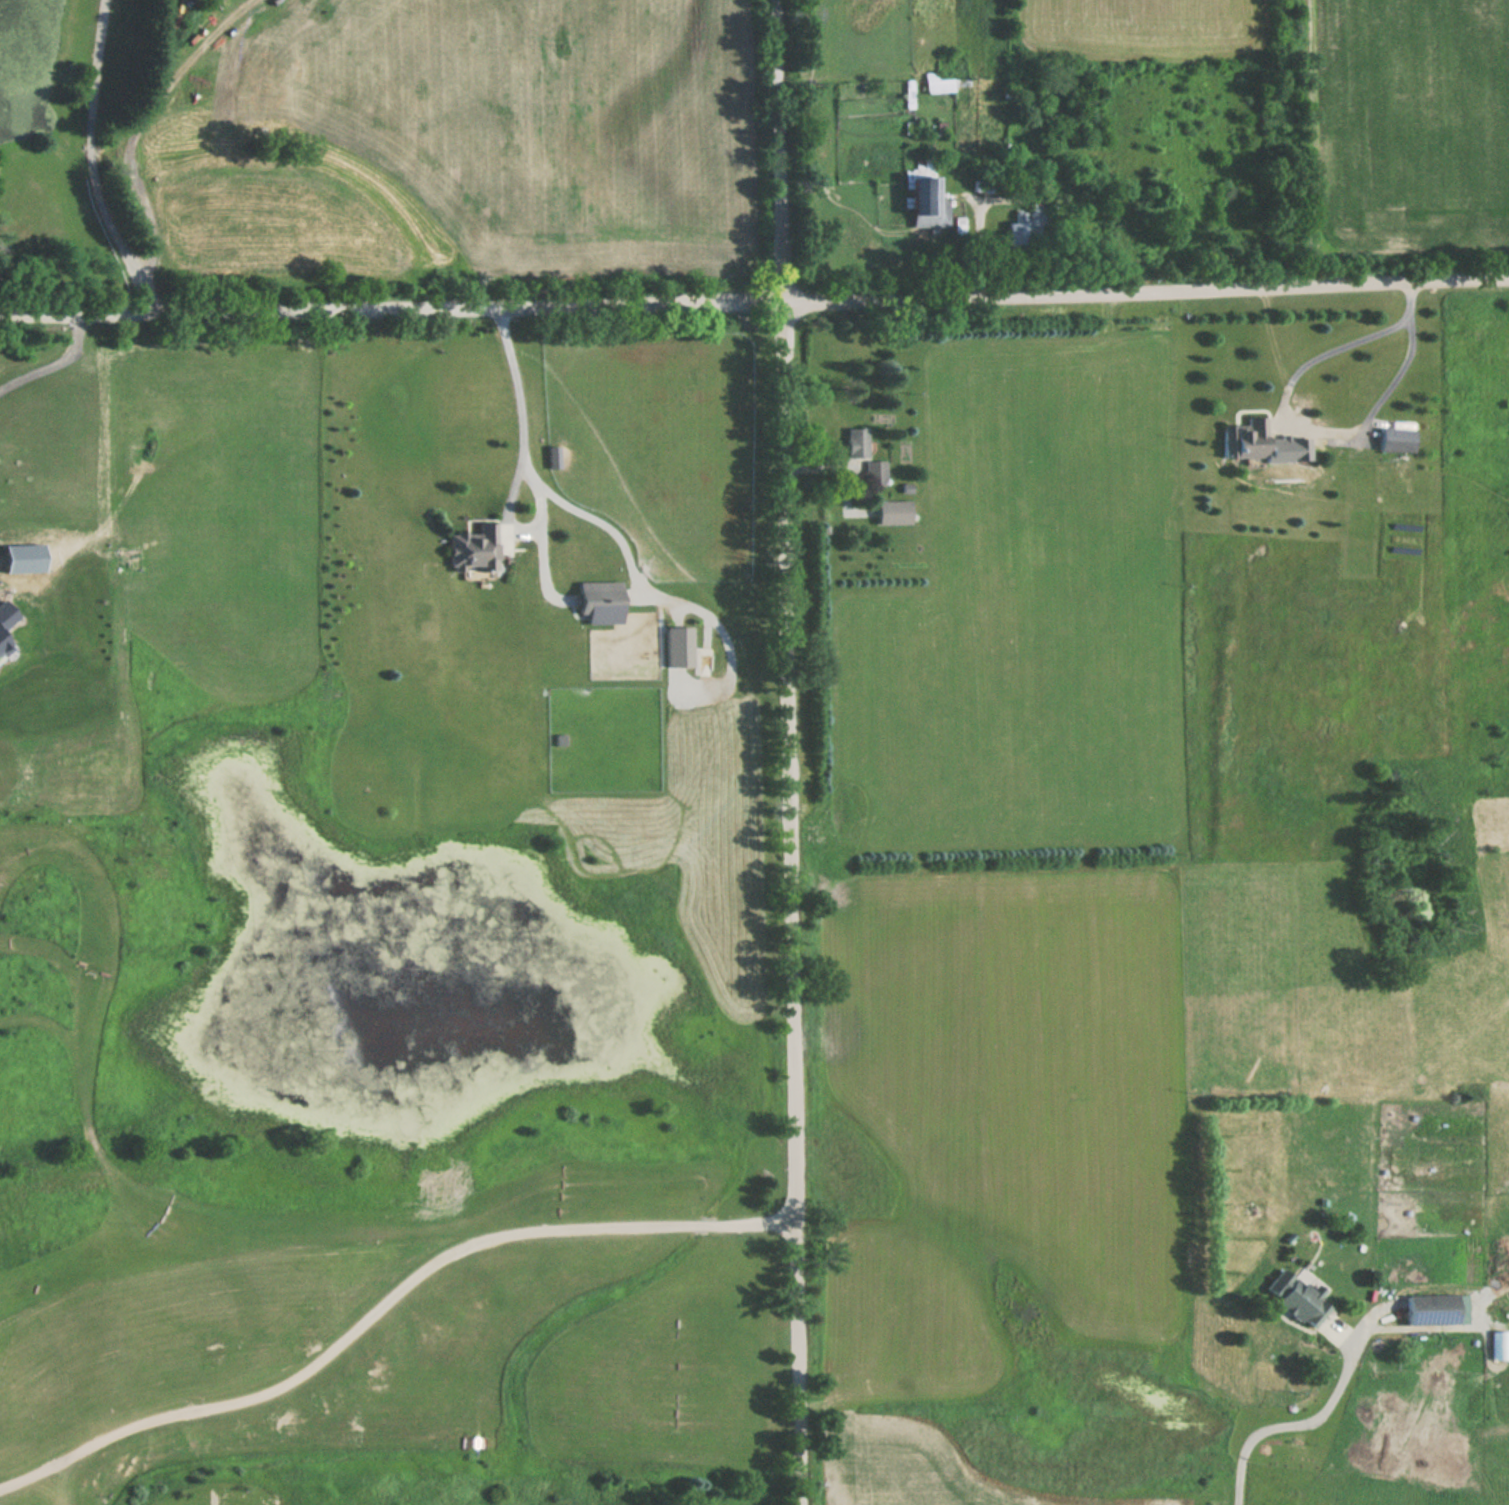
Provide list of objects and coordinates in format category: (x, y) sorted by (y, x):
building: (937, 84)
building: (908, 94)
road: (93, 164)
building: (925, 196)
building: (1025, 226)
road: (754, 302)
road: (62, 375)
road: (521, 410)
road: (1277, 431)
building: (1397, 440)
building: (1247, 441)
building: (857, 444)
building: (877, 472)
building: (893, 512)
road: (539, 516)
road: (591, 516)
building: (479, 547)
building: (542, 564)
road: (542, 571)
road: (707, 612)
road: (790, 752)
building: (1296, 1298)
road: (384, 1302)
building: (1433, 1310)
road: (1309, 1424)

